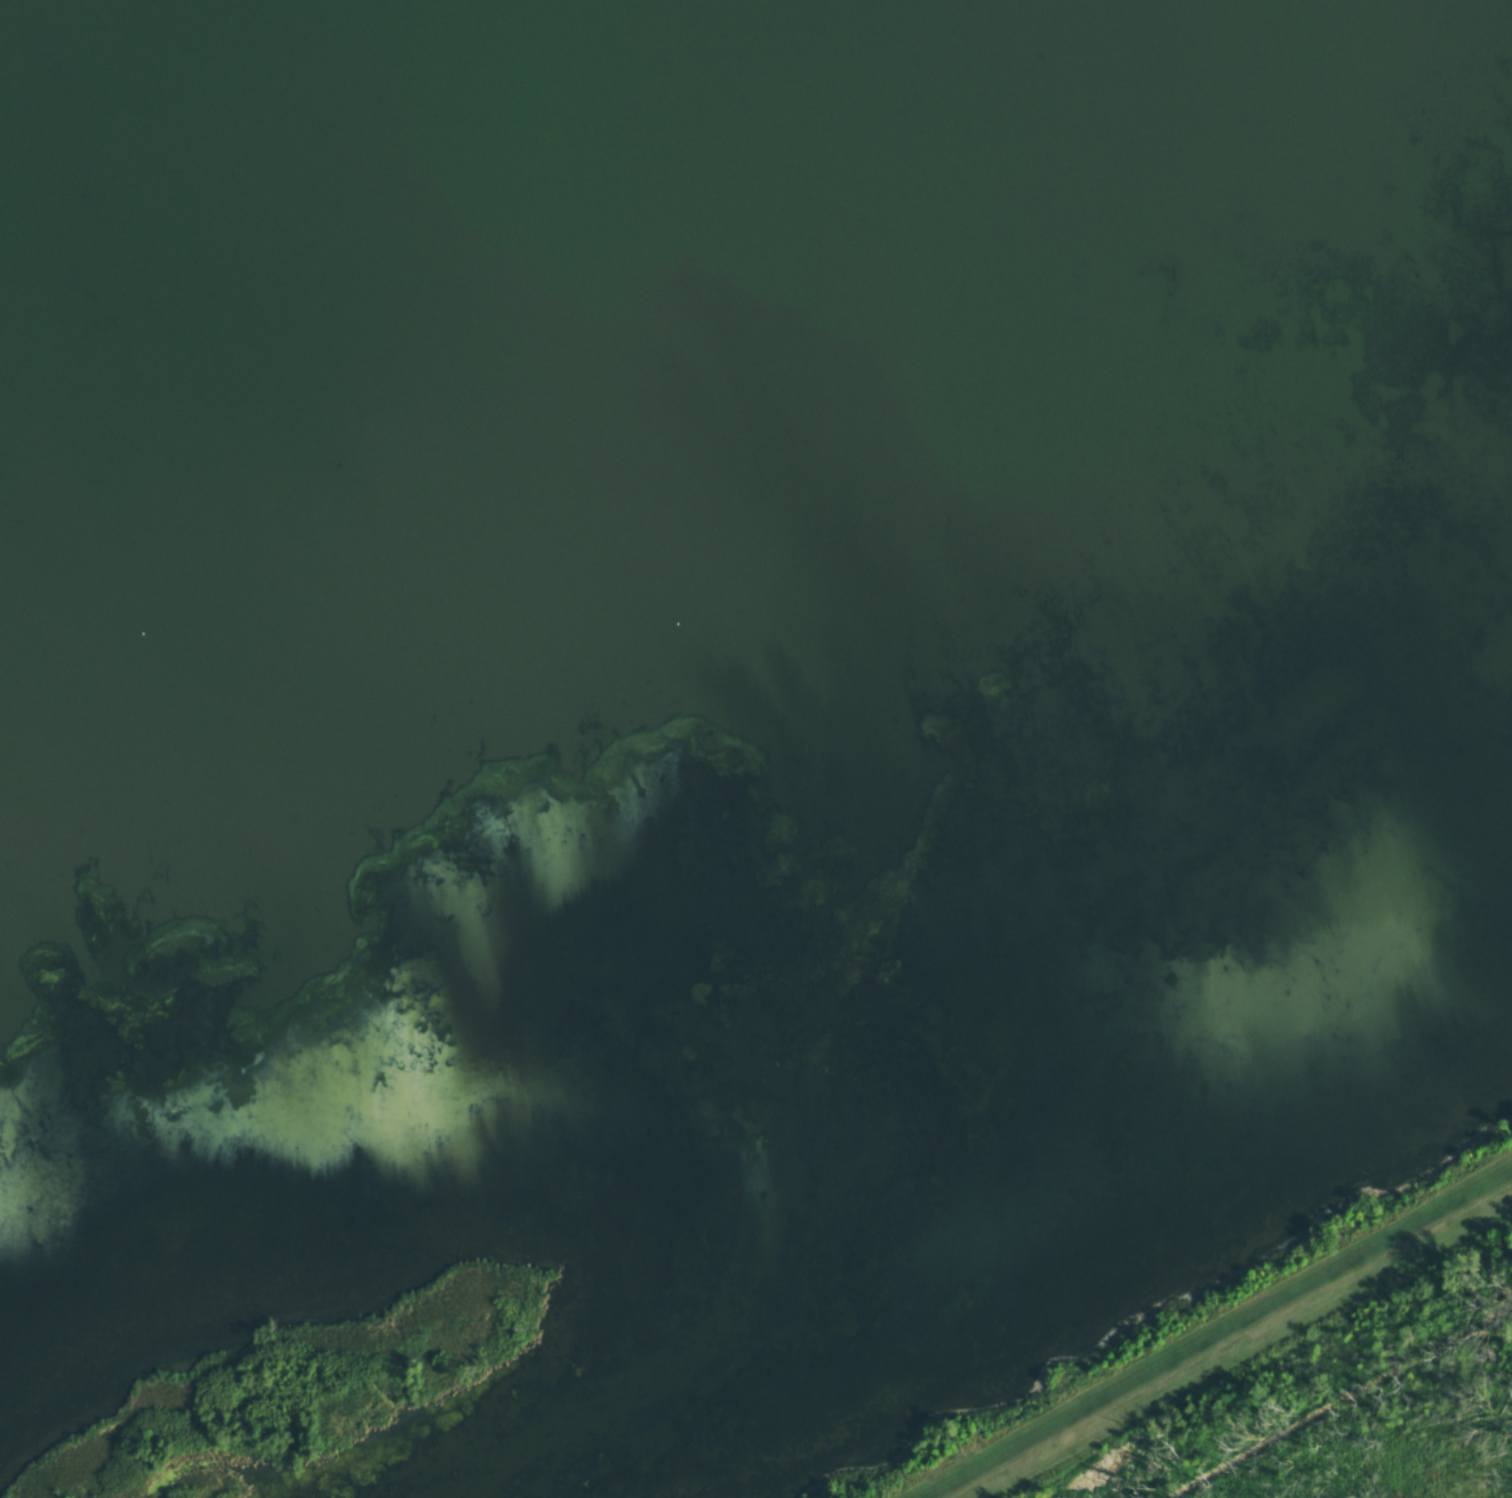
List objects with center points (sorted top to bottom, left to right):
river: (741, 838)
road: (1229, 1339)

